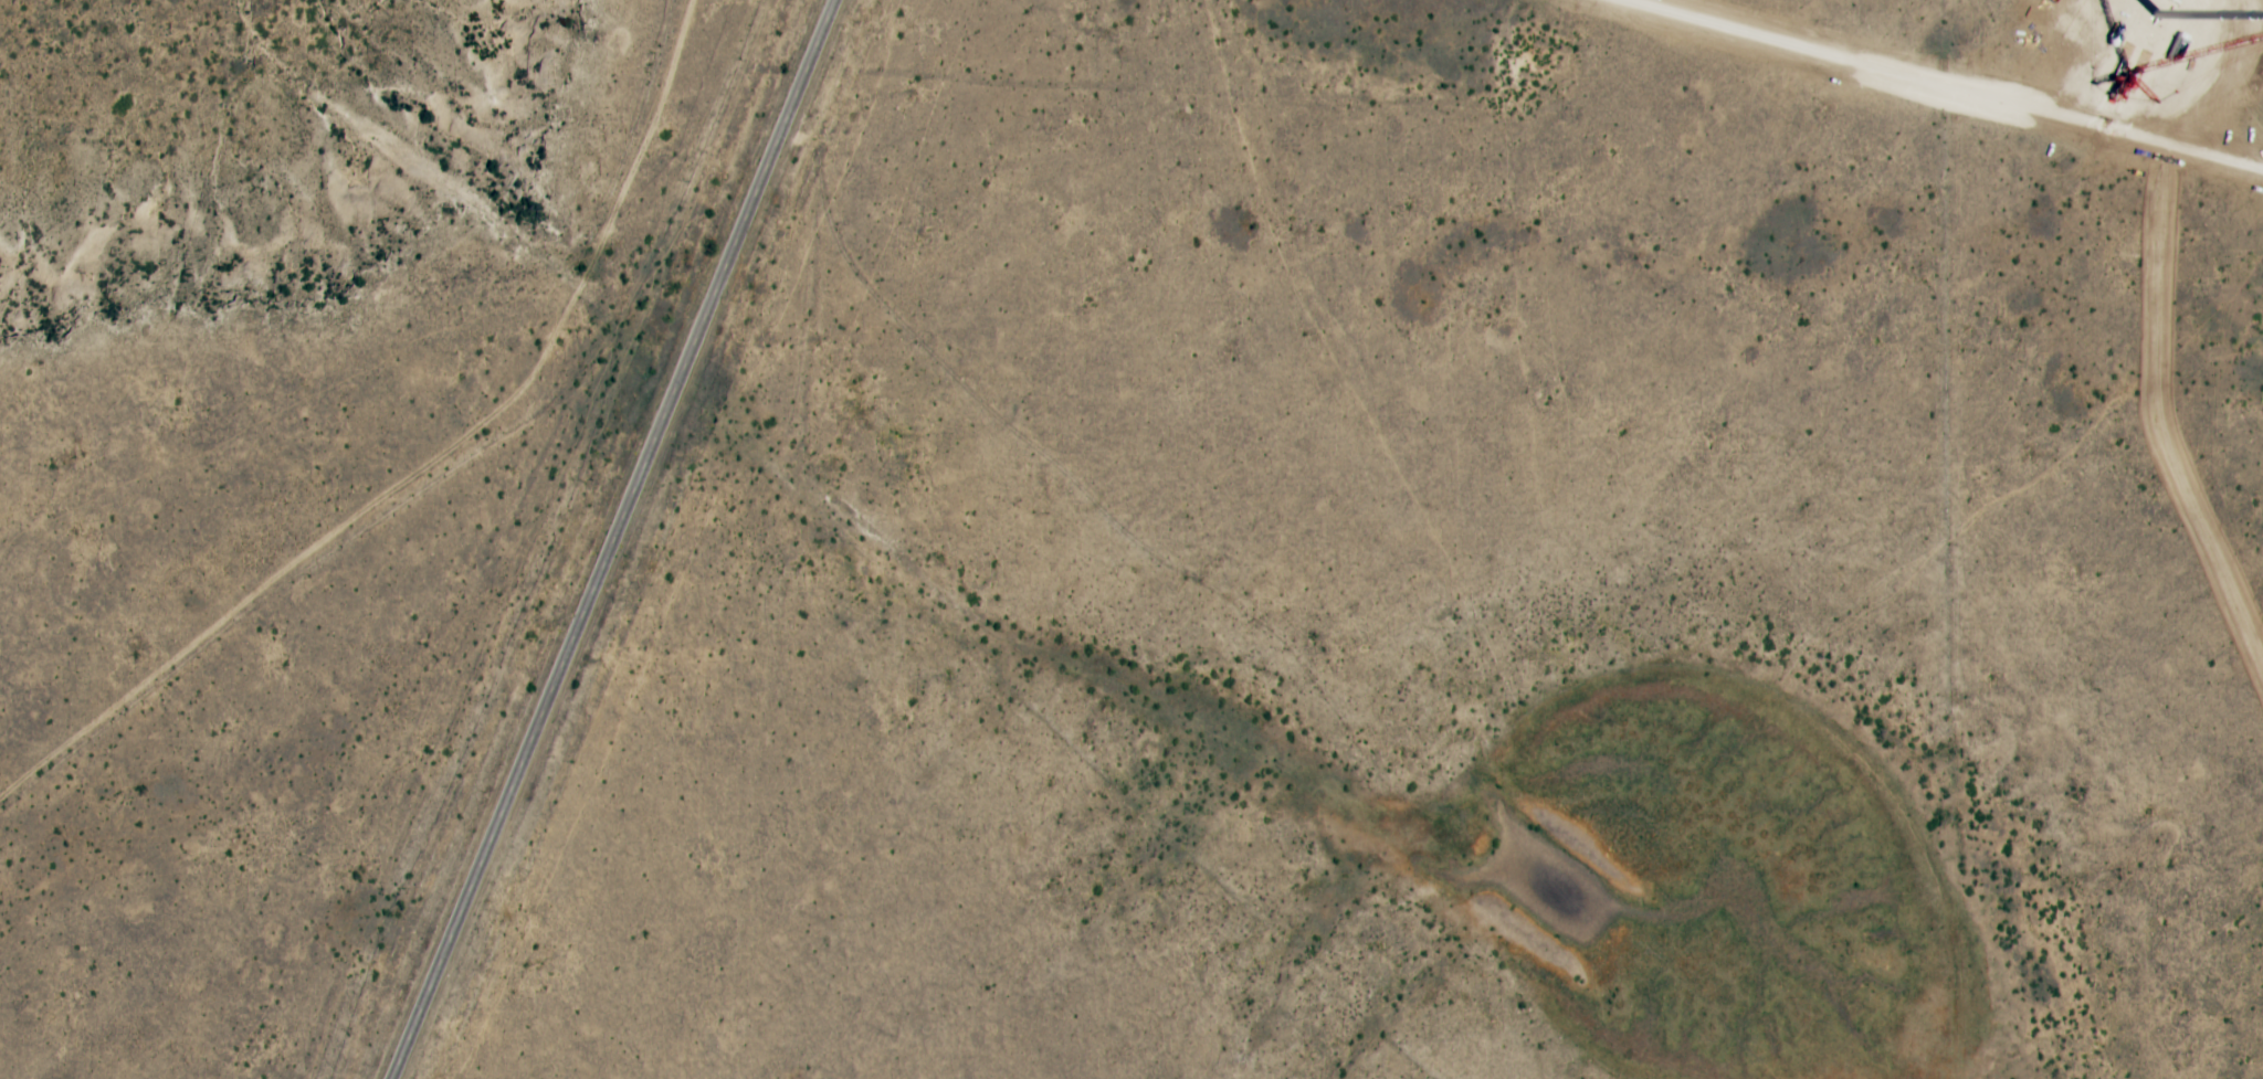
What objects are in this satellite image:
wind turbine: (2125, 11)
road: (421, 421)
road: (614, 539)

